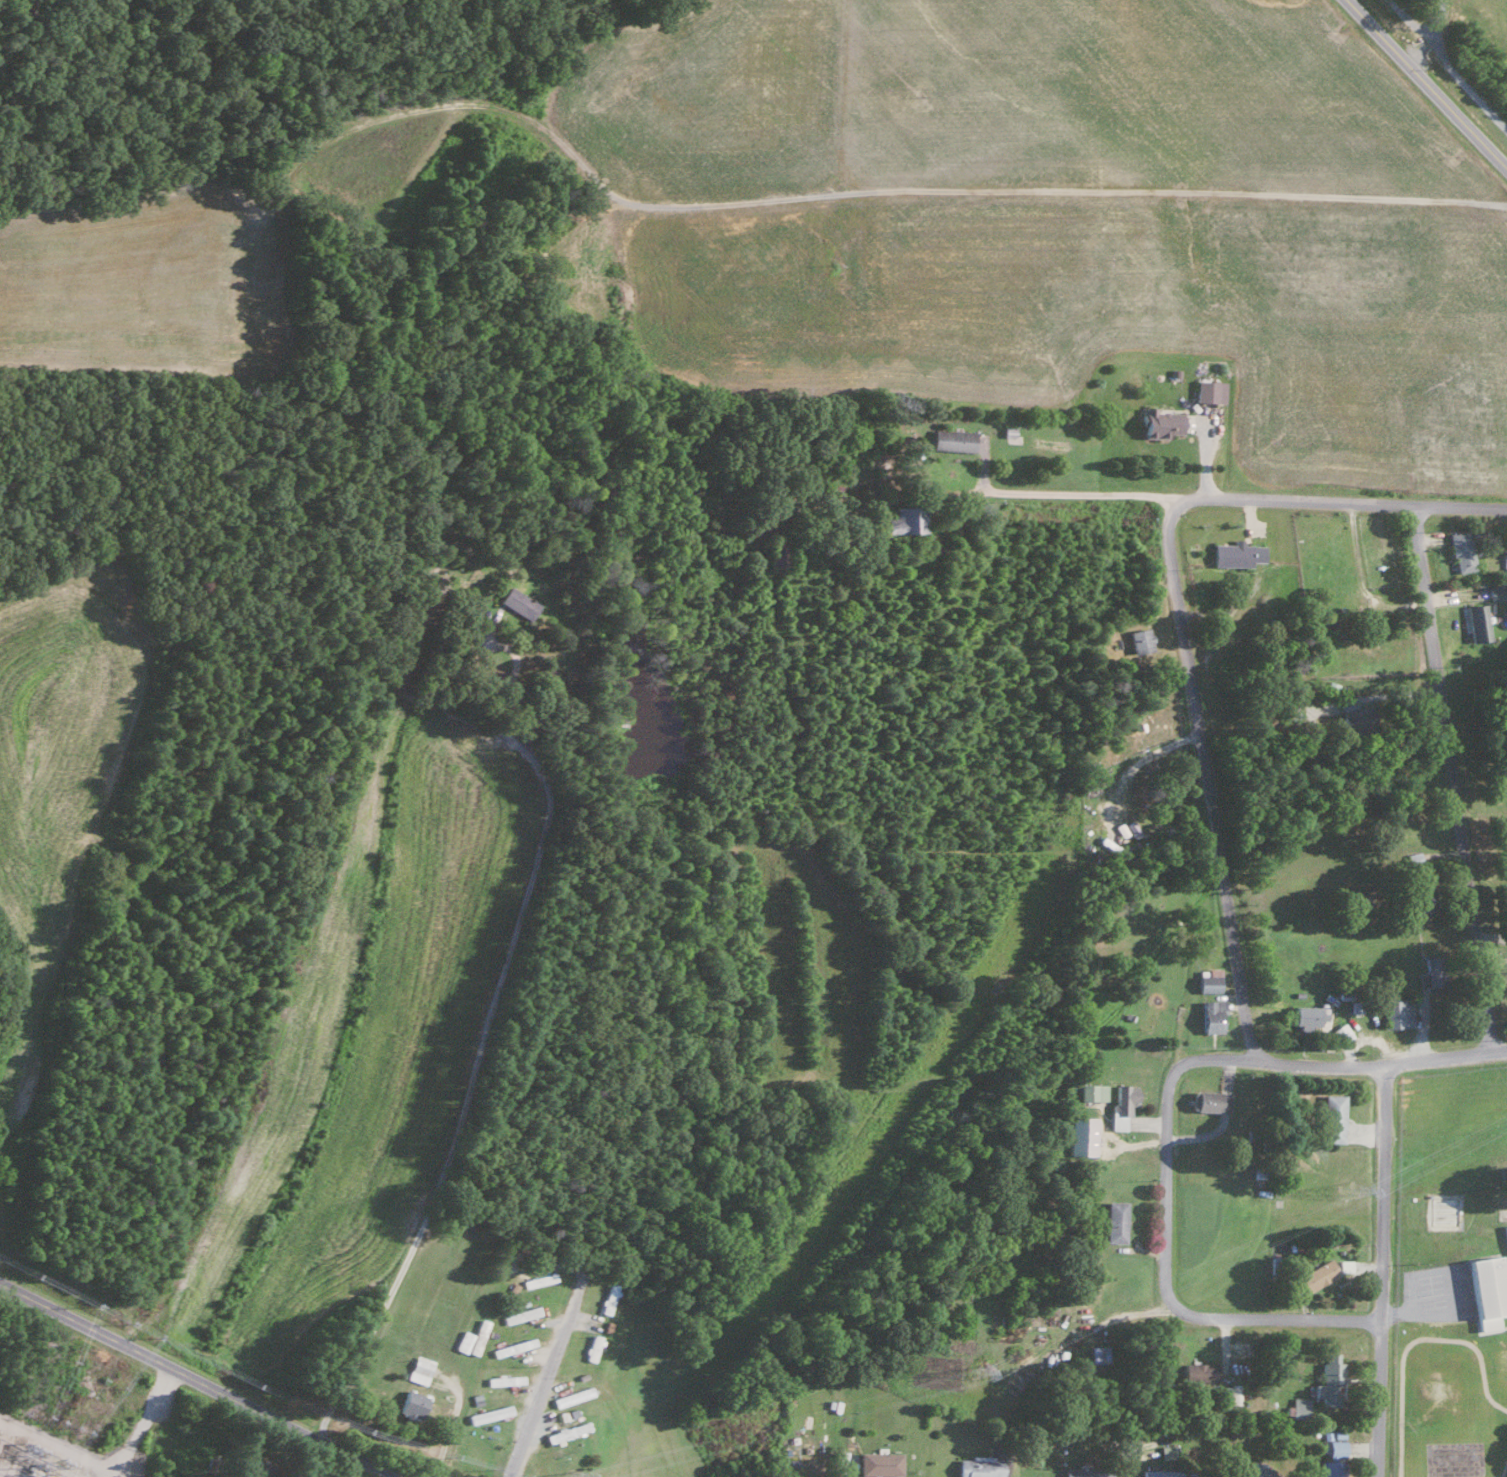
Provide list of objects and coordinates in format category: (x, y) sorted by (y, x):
road: (1439, 40)
road: (1425, 85)
building: (1209, 390)
building: (1159, 422)
building: (1007, 430)
building: (952, 439)
road: (1237, 498)
building: (906, 519)
building: (1460, 550)
building: (774, 552)
building: (1236, 554)
building: (1496, 591)
building: (517, 602)
building: (1476, 622)
building: (1139, 640)
building: (1354, 716)
road: (1153, 767)
road: (1204, 776)
road: (1451, 778)
building: (1419, 897)
building: (1430, 972)
building: (1209, 981)
road: (493, 1000)
building: (1397, 1013)
building: (1211, 1015)
building: (1310, 1016)
road: (1217, 1058)
building: (1092, 1091)
building: (1210, 1101)
building: (1122, 1104)
building: (1332, 1118)
building: (1081, 1135)
power tower: (1347, 1194)
building: (1114, 1221)
building: (1505, 1234)
road: (1377, 1271)
building: (1318, 1274)
building: (1486, 1292)
building: (519, 1314)
road: (1273, 1316)
building: (477, 1337)
building: (462, 1341)
building: (512, 1347)
building: (1097, 1354)
building: (419, 1369)
building: (1200, 1372)
power tower: (970, 1375)
road: (544, 1376)
building: (503, 1380)
building: (1328, 1380)
road: (200, 1383)
building: (1230, 1394)
building: (570, 1397)
building: (411, 1404)
building: (1299, 1407)
building: (488, 1414)
building: (565, 1432)
building: (1335, 1448)
building: (1166, 1452)
power substation: (58, 1456)
building: (879, 1464)
building: (979, 1467)
building: (1329, 1469)
building: (1251, 1471)
building: (1082, 1472)
building: (1160, 1473)
power tower: (571, 1476)

